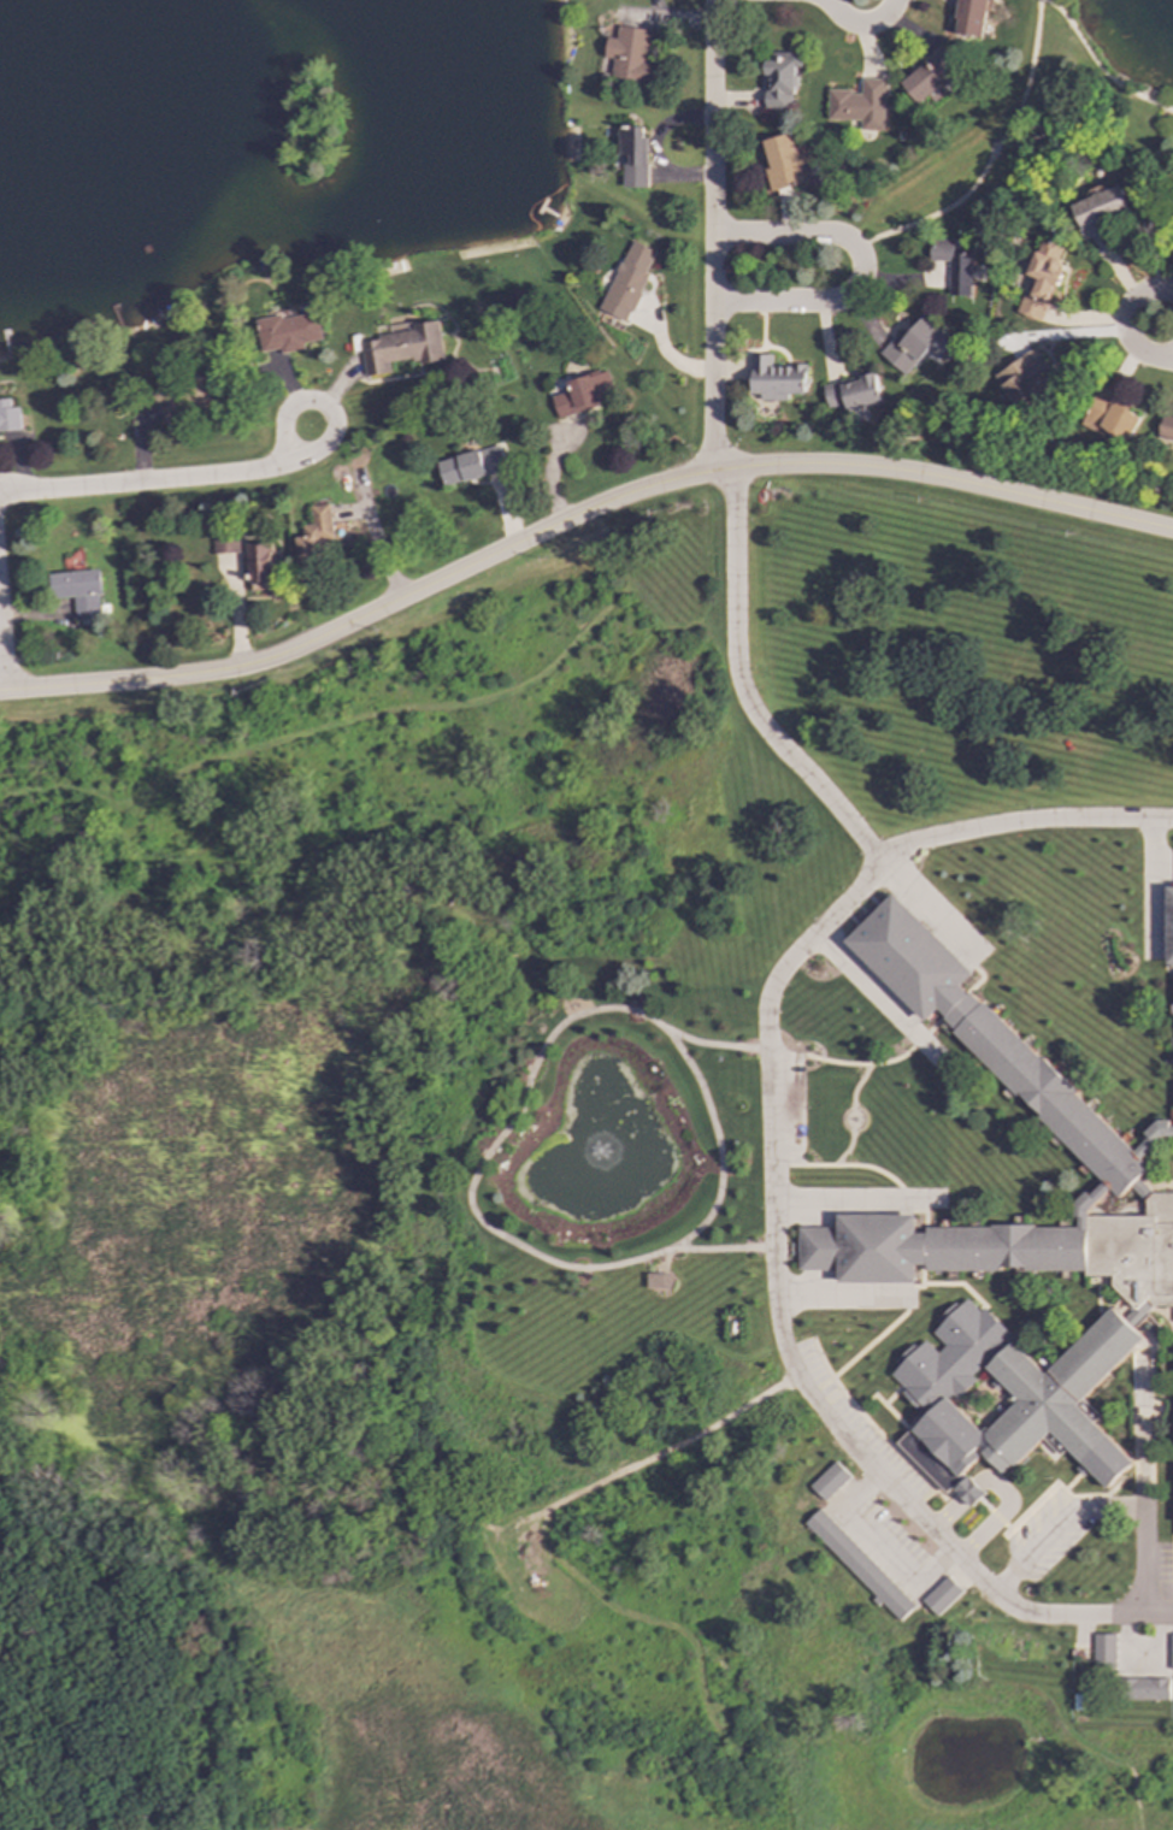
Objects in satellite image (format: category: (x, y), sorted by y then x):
building: (969, 18)
road: (860, 24)
building: (629, 57)
road: (1098, 66)
building: (930, 76)
building: (779, 78)
building: (859, 105)
building: (630, 157)
road: (989, 157)
building: (782, 160)
building: (1172, 200)
building: (1100, 207)
road: (711, 236)
building: (953, 265)
road: (860, 268)
building: (1039, 278)
building: (626, 281)
road: (1126, 324)
building: (284, 332)
building: (910, 344)
building: (399, 348)
building: (773, 378)
building: (1022, 379)
building: (851, 392)
building: (182, 394)
building: (583, 394)
road: (324, 409)
building: (7, 417)
building: (1110, 420)
building: (1165, 429)
building: (470, 465)
road: (145, 483)
road: (576, 514)
building: (312, 532)
building: (224, 543)
building: (258, 562)
building: (77, 591)
road: (1, 677)
road: (742, 690)
road: (1024, 826)
building: (1169, 926)
road: (770, 1140)
road: (488, 1226)
building: (1007, 1244)
road: (727, 1246)
building: (659, 1280)
road: (1140, 1438)
road: (676, 1446)
building: (830, 1481)
building: (969, 1492)
road: (1055, 1524)
road: (1143, 1562)
building: (860, 1565)
road: (983, 1586)
building: (942, 1595)
building: (1103, 1651)
building: (1171, 1653)
building: (1148, 1689)

